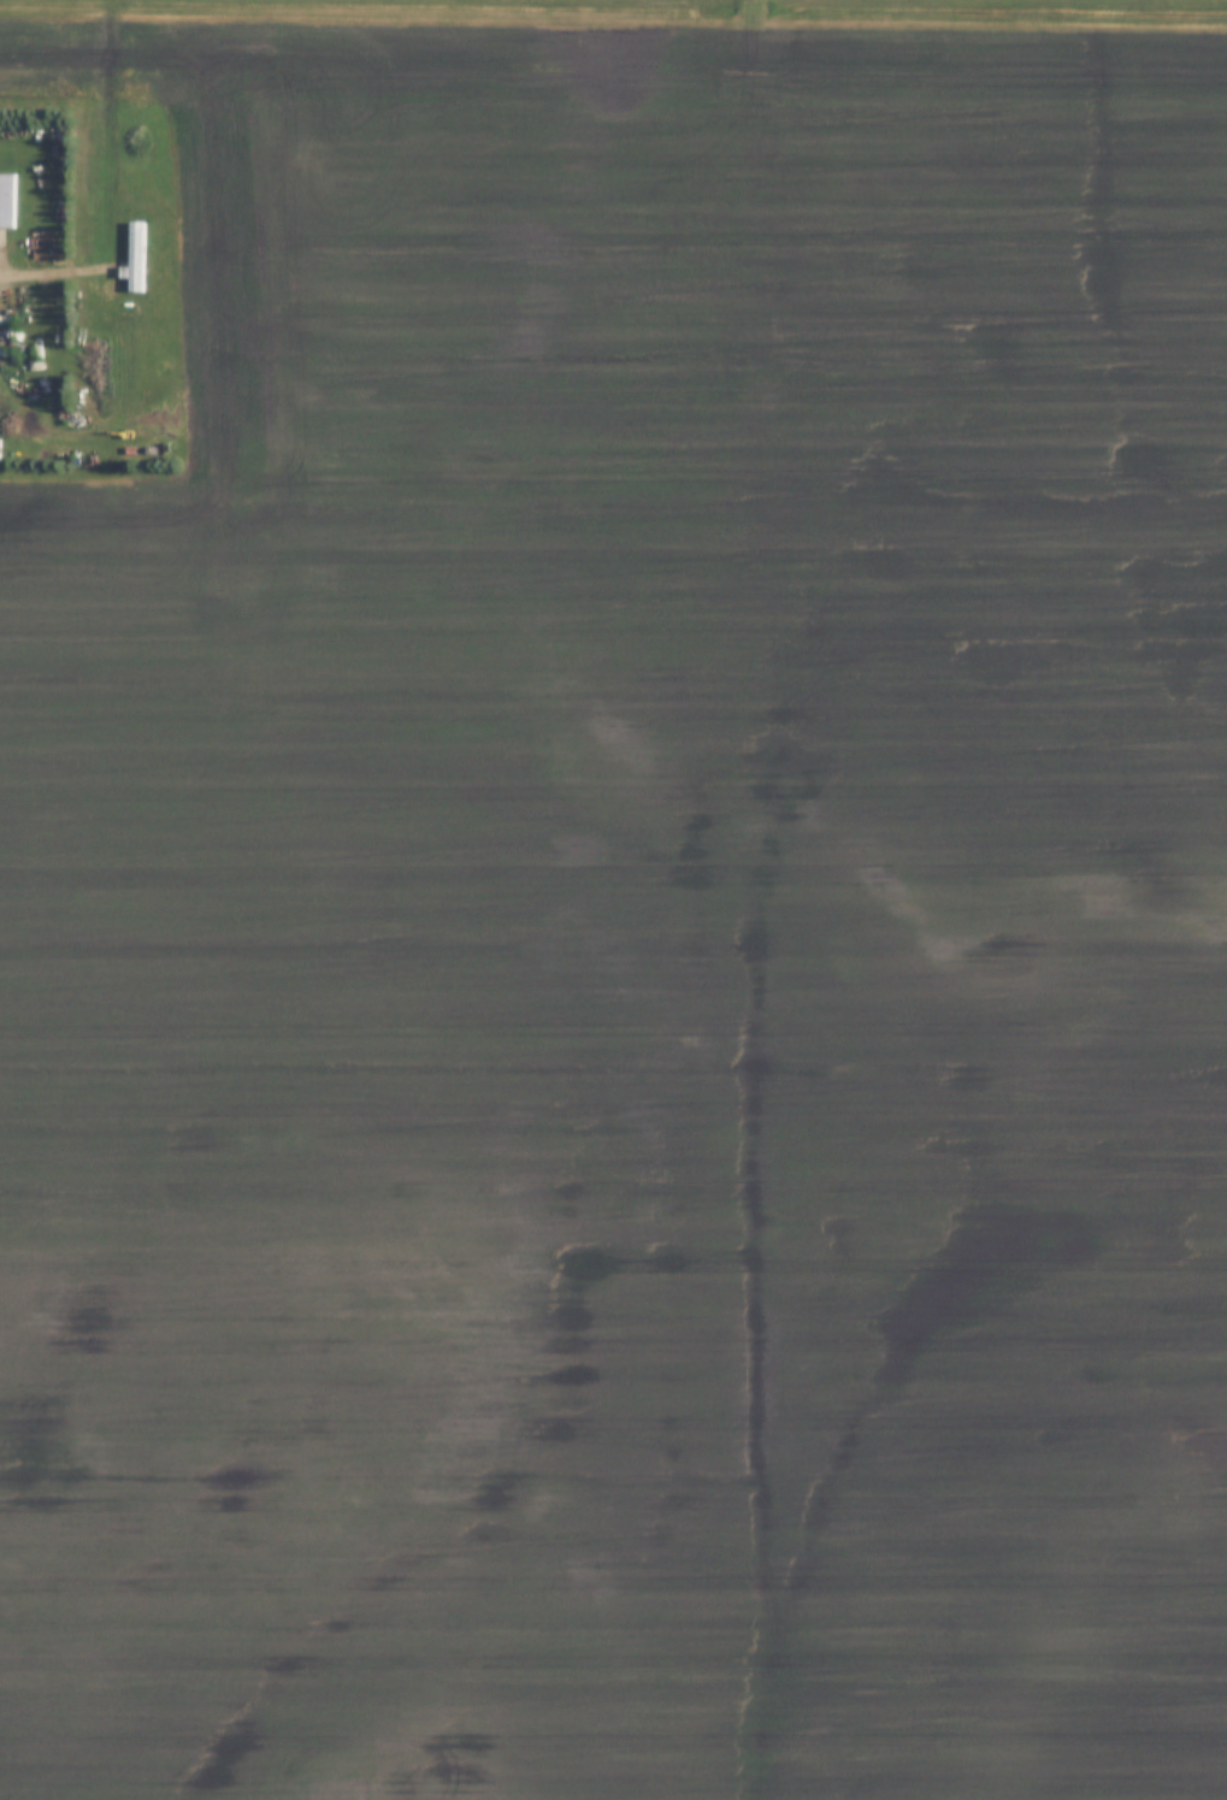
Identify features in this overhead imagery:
building: (7, 201)
building: (137, 256)
road: (52, 268)

